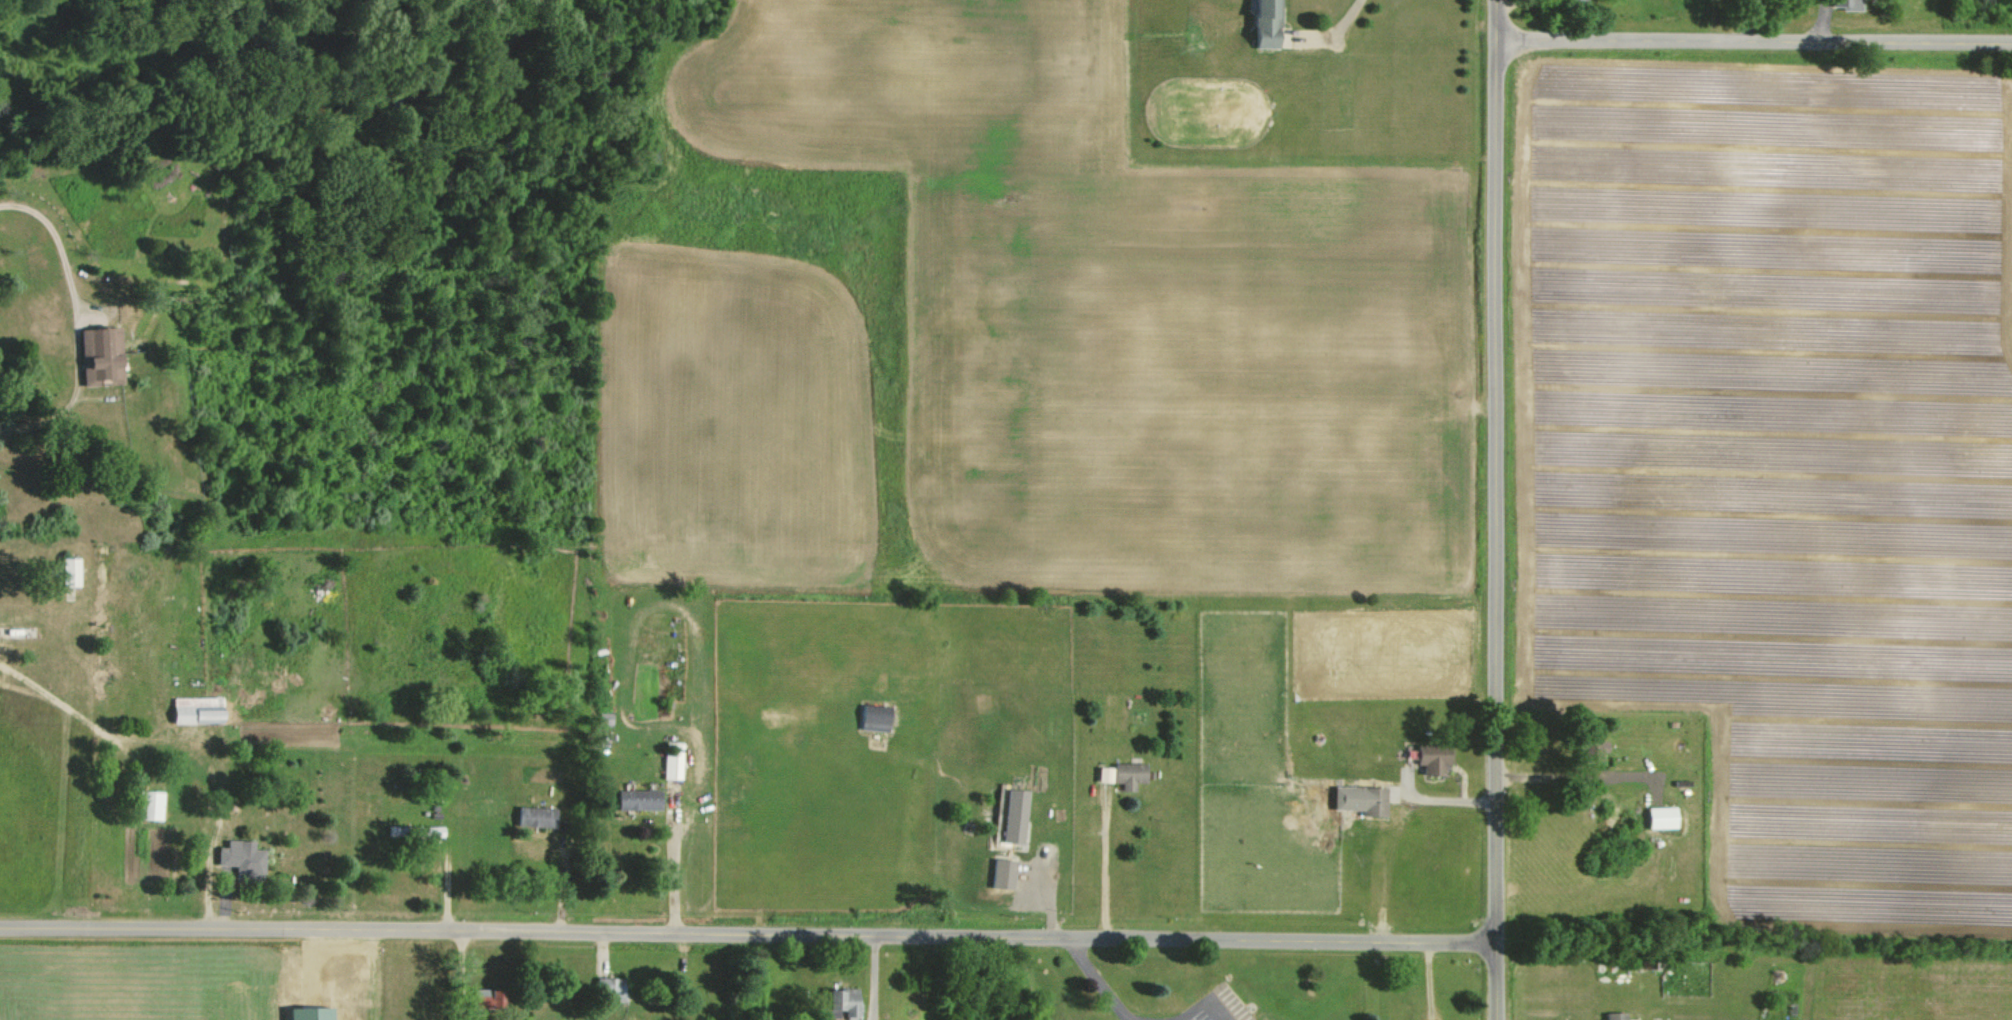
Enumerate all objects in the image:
building: (1573, 1)
building: (1842, 4)
building: (1261, 23)
road: (1342, 24)
road: (1754, 36)
road: (78, 321)
building: (97, 354)
road: (1500, 509)
building: (64, 571)
building: (193, 709)
building: (872, 717)
building: (1589, 745)
building: (673, 746)
building: (1429, 759)
building: (672, 765)
building: (1101, 774)
building: (1125, 774)
building: (635, 799)
building: (1358, 799)
road: (1450, 799)
building: (148, 805)
building: (533, 816)
building: (1660, 817)
building: (425, 831)
building: (240, 858)
road: (674, 860)
road: (1105, 861)
building: (1001, 873)
road: (752, 929)
road: (463, 969)
road: (1104, 982)
building: (610, 988)
building: (484, 998)
building: (841, 1002)
road: (1199, 1002)
building: (307, 1013)
road: (462, 1015)
road: (468, 1015)
building: (1614, 1015)
road: (1131, 1018)
road: (1171, 1019)

